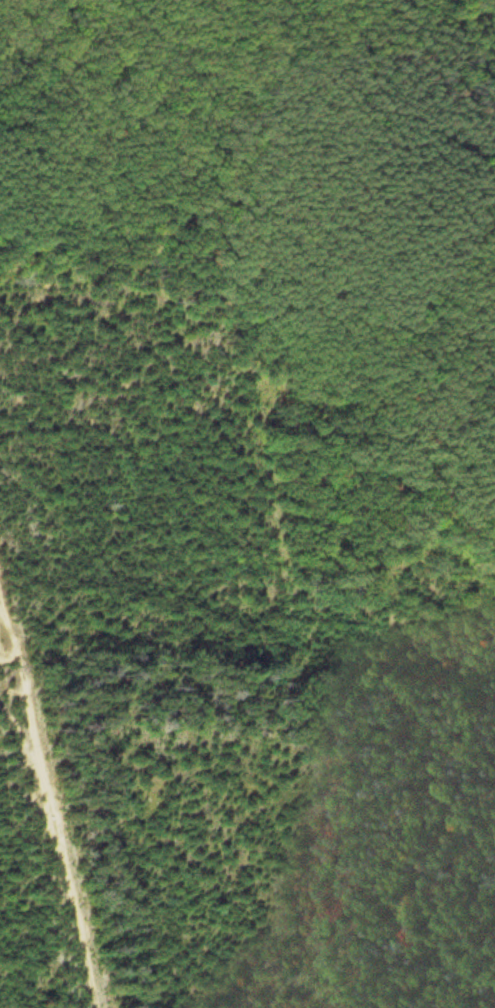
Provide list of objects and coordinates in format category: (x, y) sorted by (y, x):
road: (51, 790)

